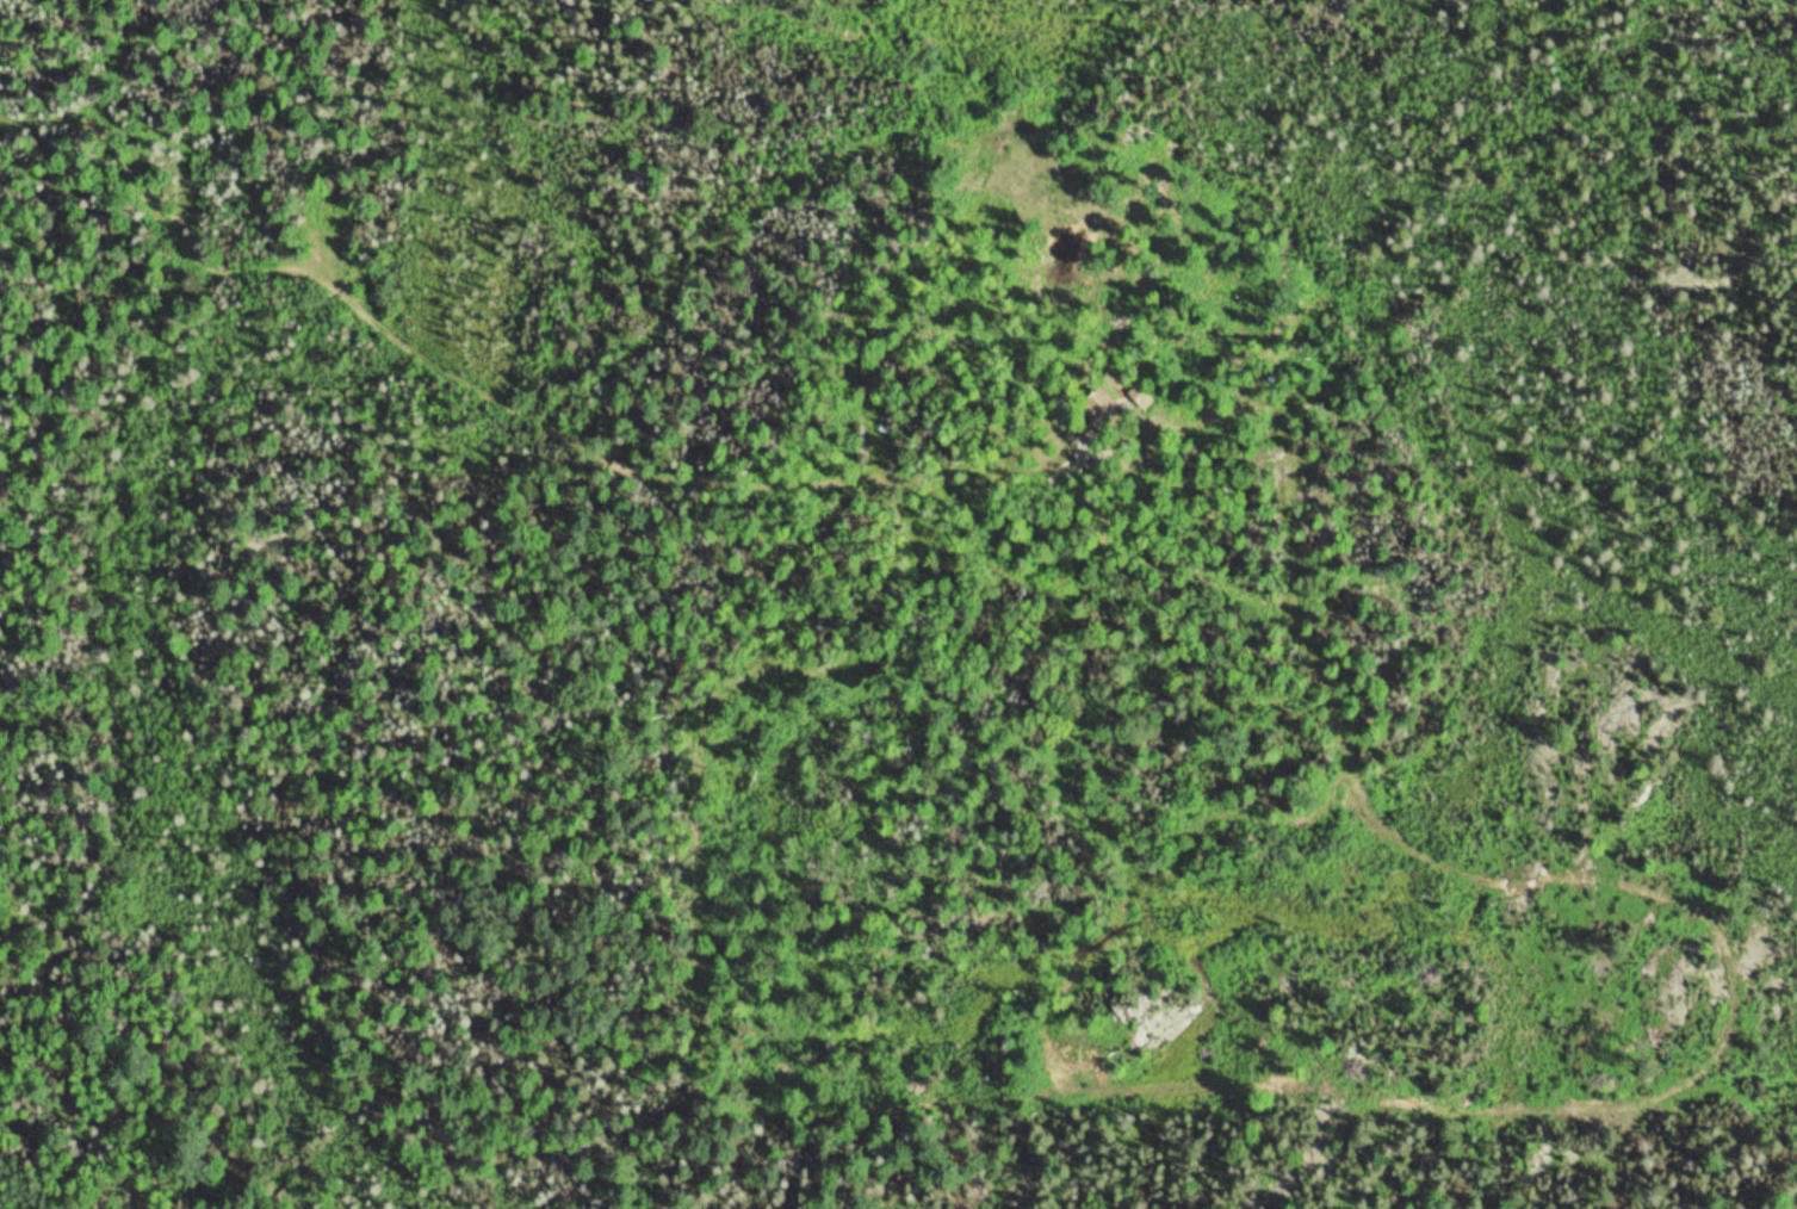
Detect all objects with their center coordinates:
road: (242, 268)

